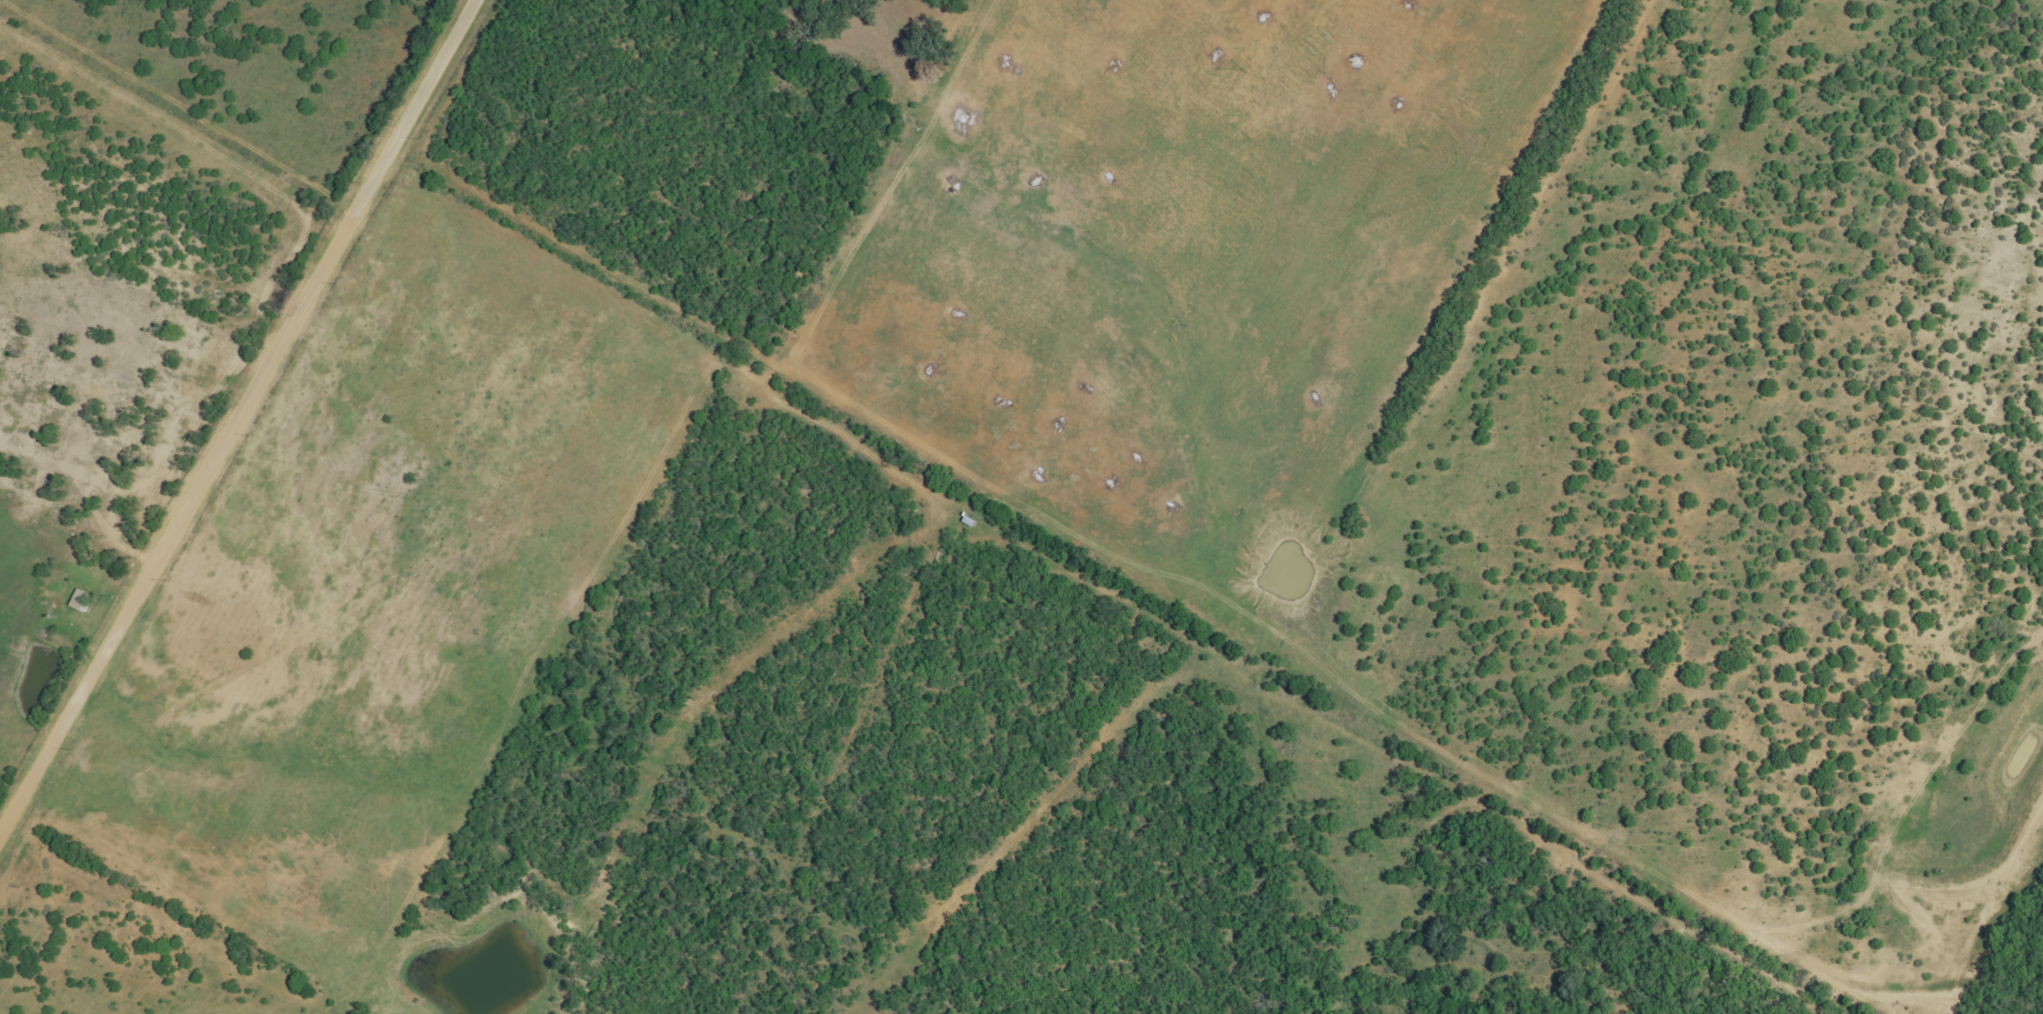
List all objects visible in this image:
road: (236, 418)
building: (81, 599)

